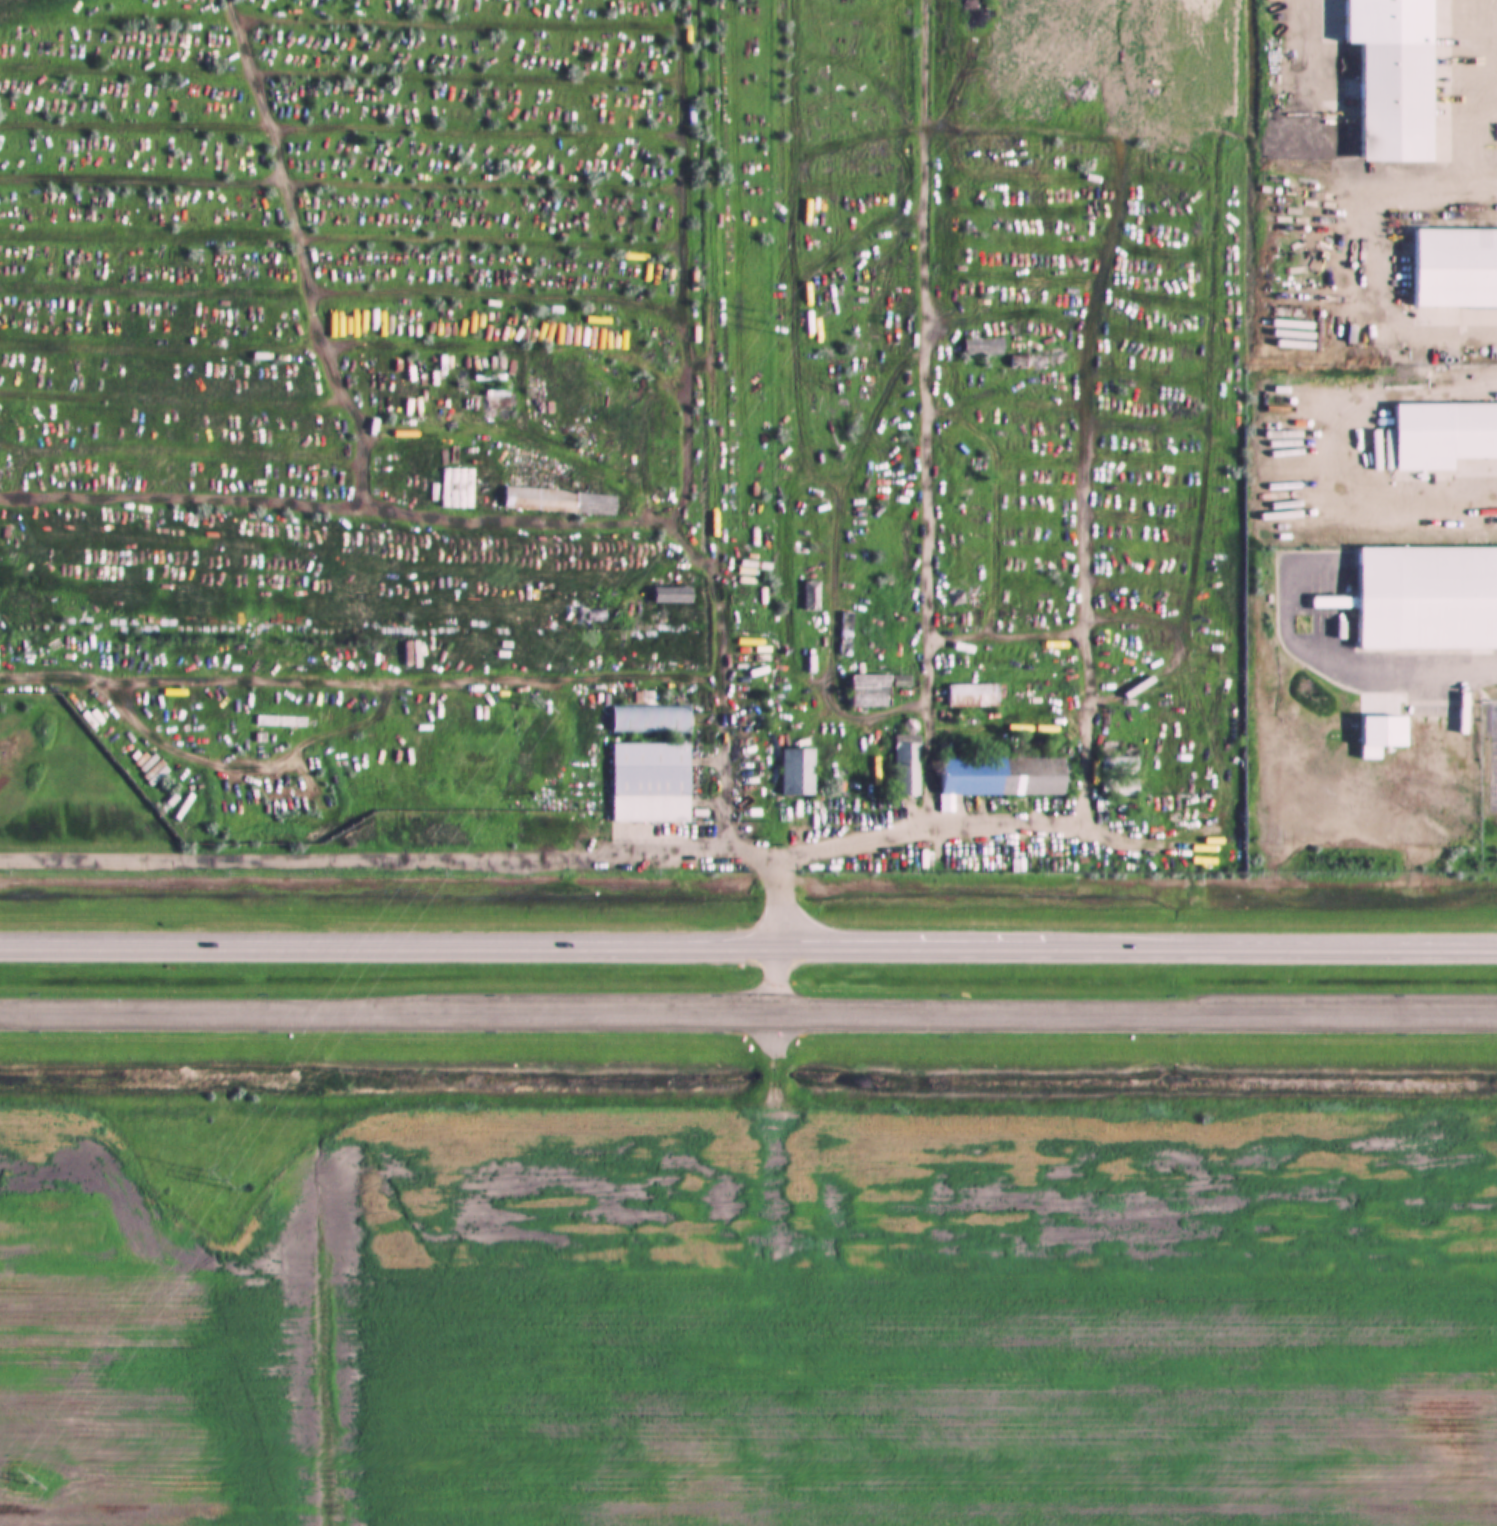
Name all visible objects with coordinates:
building: (972, 5)
building: (1399, 95)
building: (1454, 269)
power tower: (782, 323)
building: (980, 346)
building: (1447, 438)
building: (458, 488)
building: (562, 501)
building: (806, 596)
building: (1427, 598)
building: (846, 639)
building: (873, 691)
building: (972, 695)
power tower: (543, 708)
road: (725, 708)
building: (1004, 776)
building: (652, 782)
road: (945, 828)
road: (365, 859)
road: (779, 876)
road: (748, 947)
road: (774, 980)
road: (748, 1012)
road: (774, 1063)
power tower: (224, 1181)
crop: (761, 1333)
power tower: (19, 1480)

